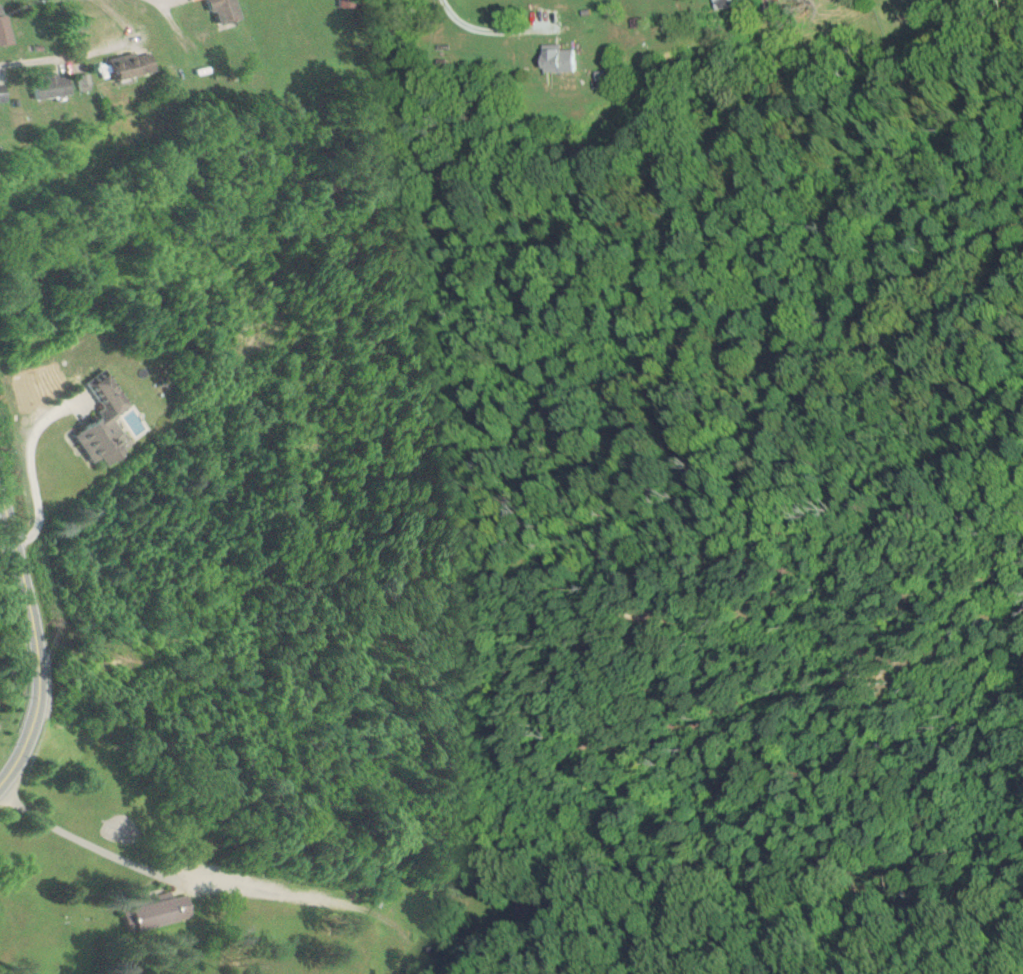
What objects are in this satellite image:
building: (772, 0)
building: (729, 3)
building: (228, 9)
building: (5, 25)
road: (35, 59)
building: (566, 59)
building: (136, 64)
building: (55, 85)
building: (4, 92)
road: (987, 207)
building: (103, 423)
road: (33, 642)
road: (214, 888)
building: (168, 911)

